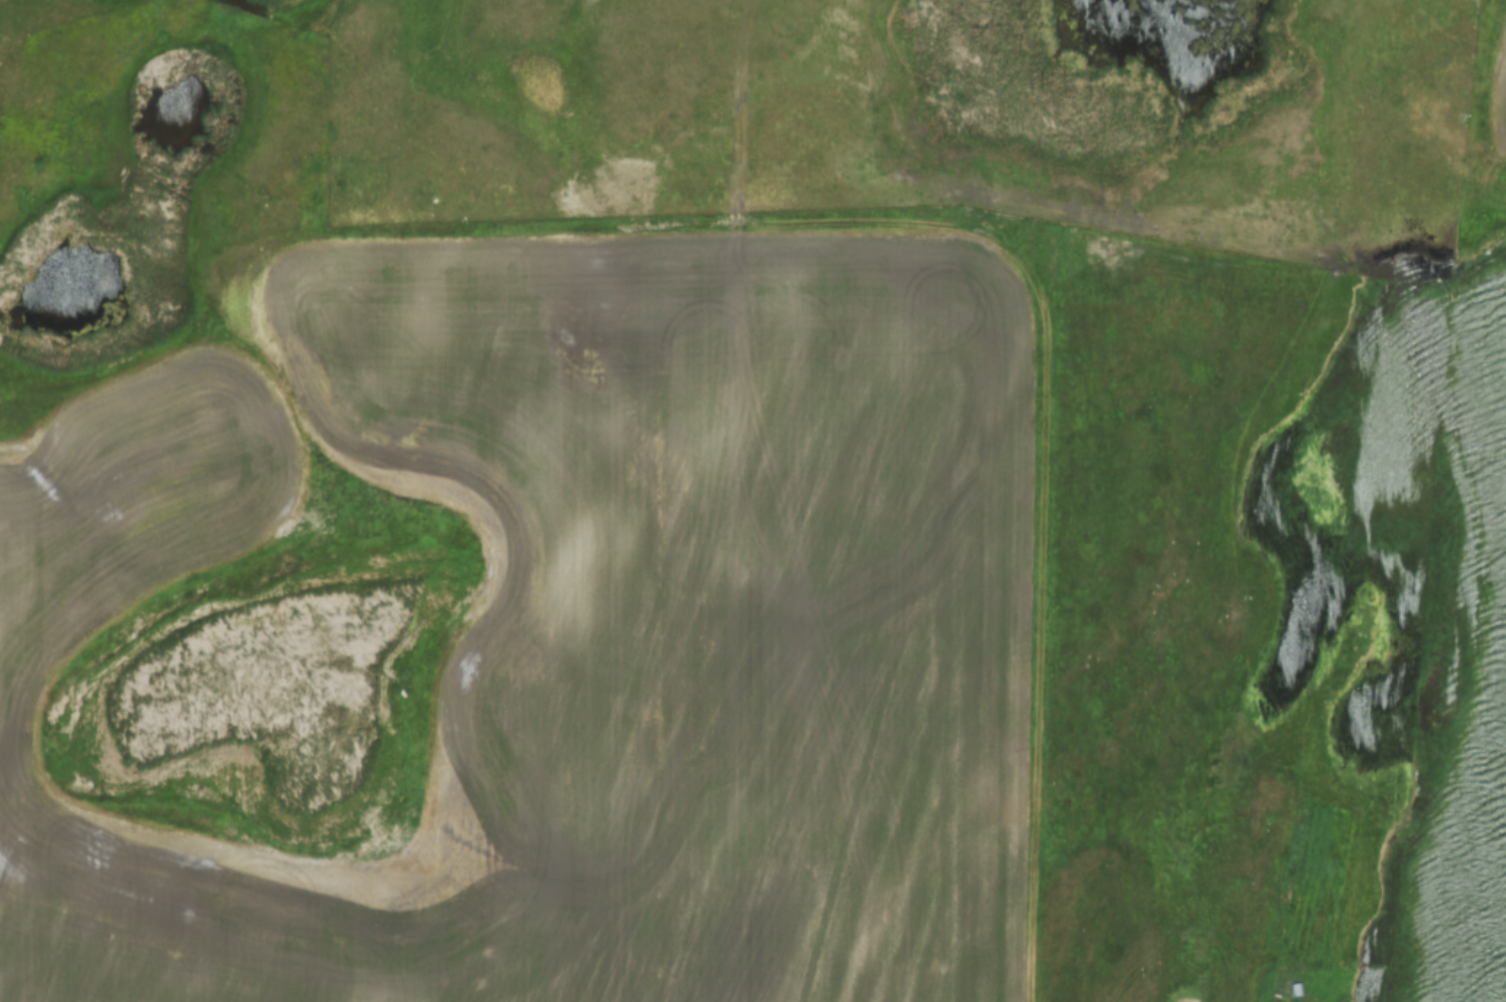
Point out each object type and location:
road: (1457, 565)

